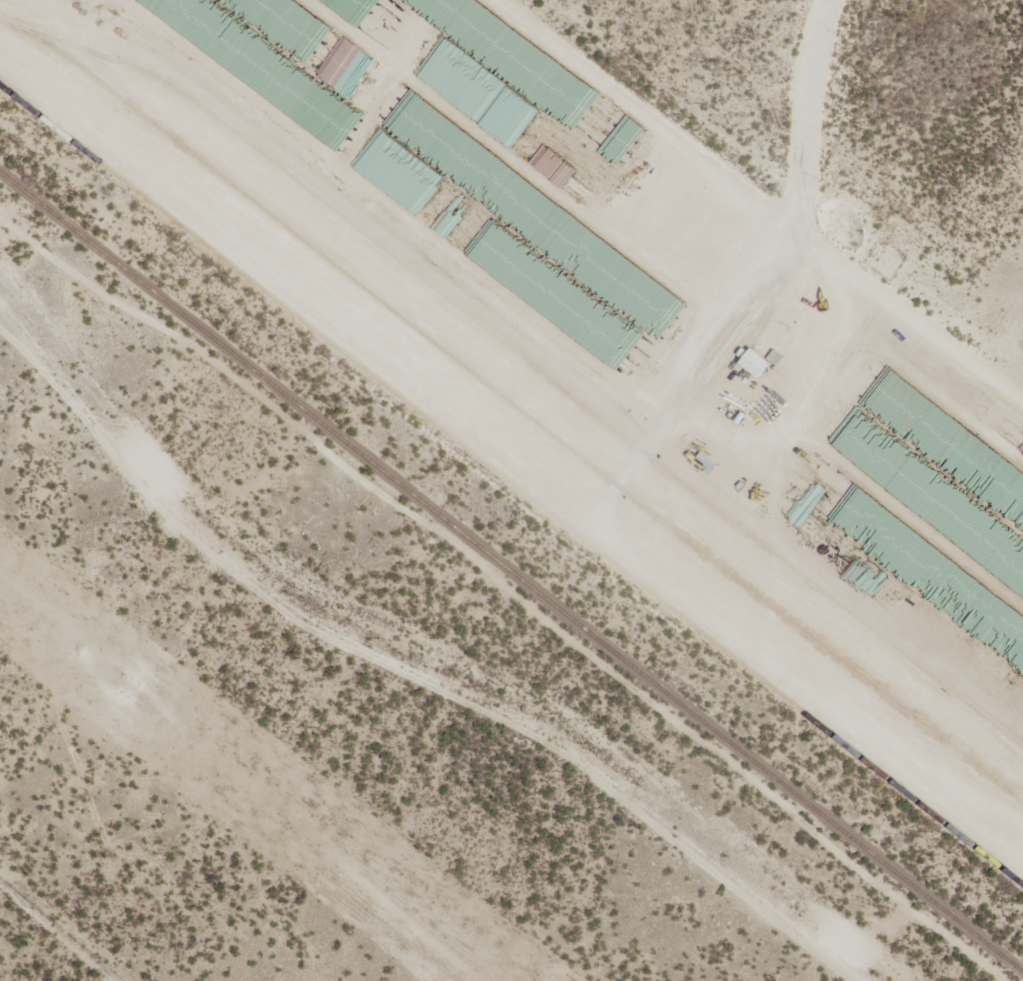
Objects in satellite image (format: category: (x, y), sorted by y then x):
building: (347, 48)
building: (460, 77)
building: (615, 121)
building: (553, 166)
building: (398, 172)
building: (763, 364)
building: (807, 506)
railway: (511, 572)
building: (972, 654)
power tower: (127, 688)

